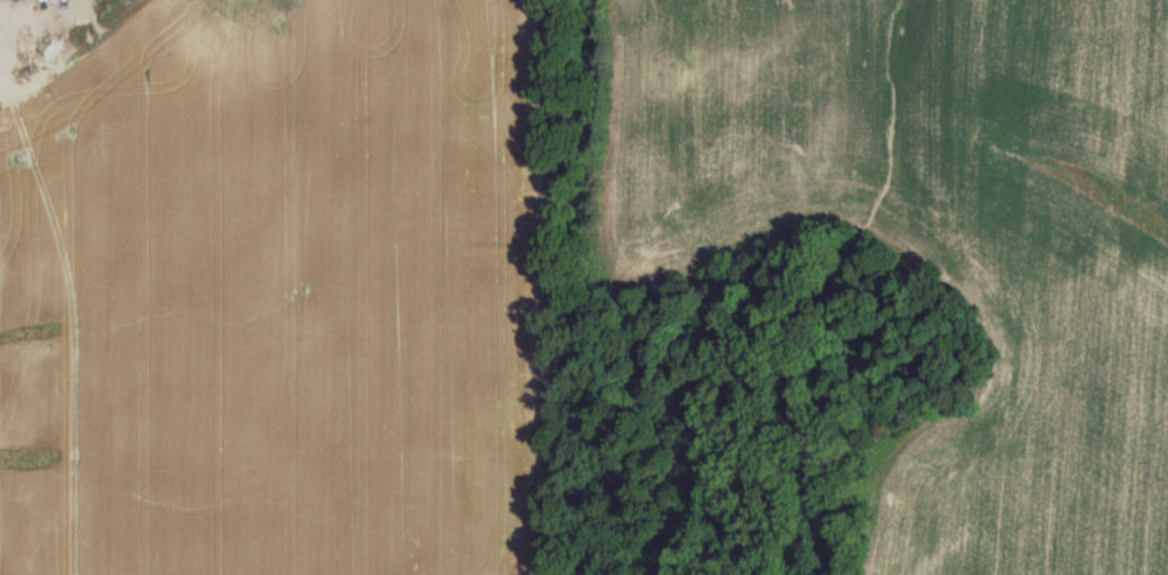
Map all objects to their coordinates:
crop: (583, 287)

